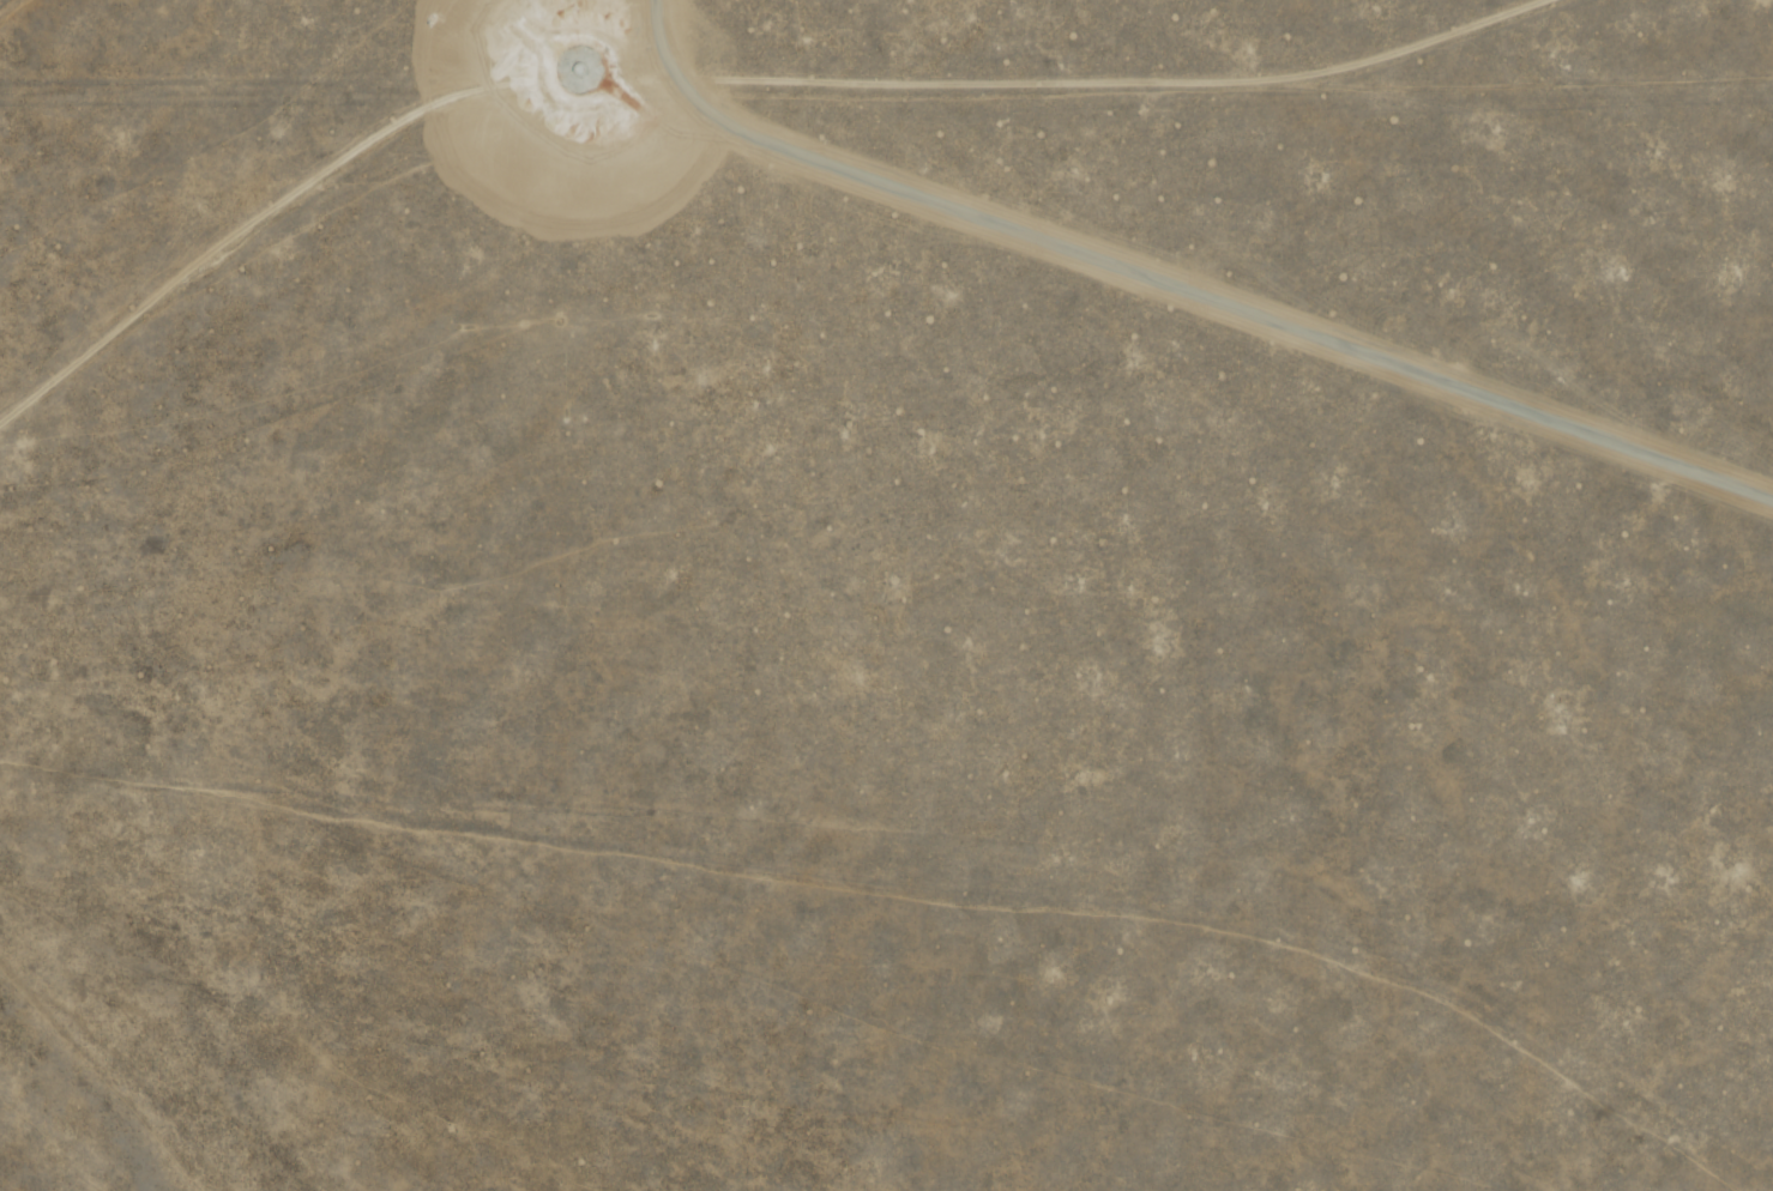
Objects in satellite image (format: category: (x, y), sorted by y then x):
wind turbine: (555, 75)

